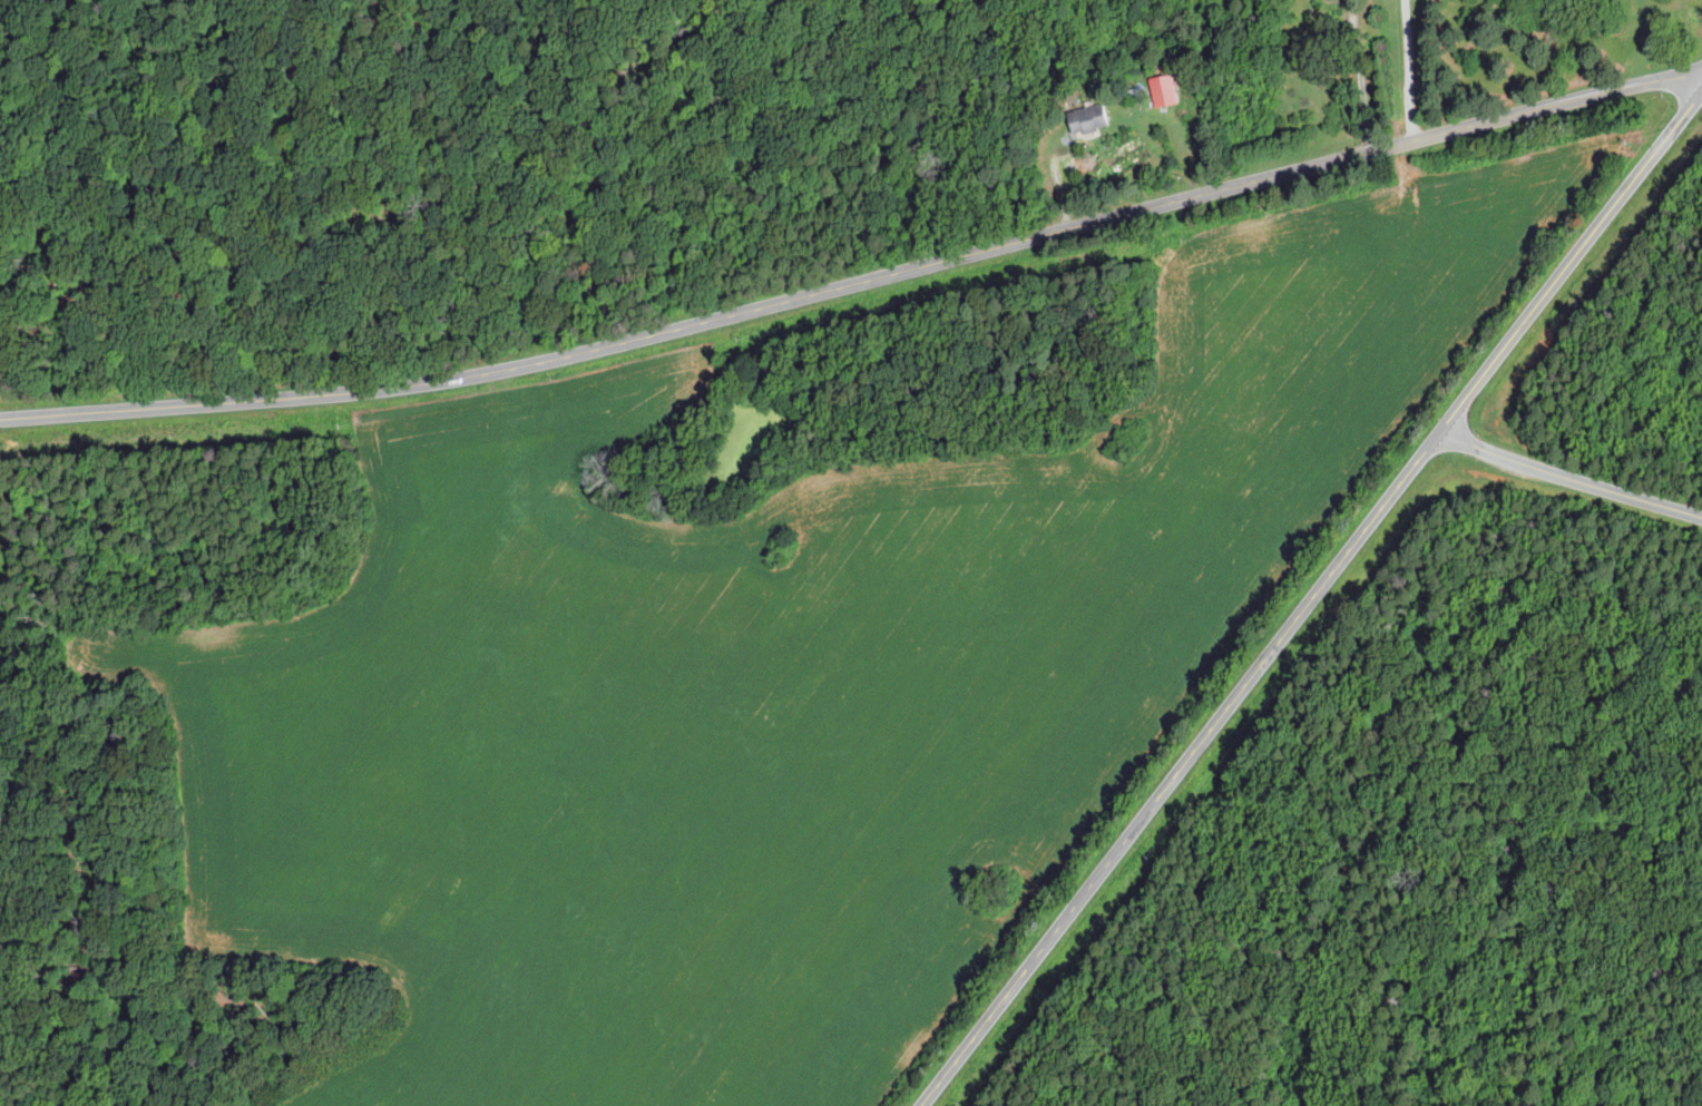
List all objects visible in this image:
road: (1409, 70)
road: (1361, 76)
building: (1162, 89)
building: (1089, 118)
road: (858, 285)
road: (1569, 474)
road: (1307, 599)

